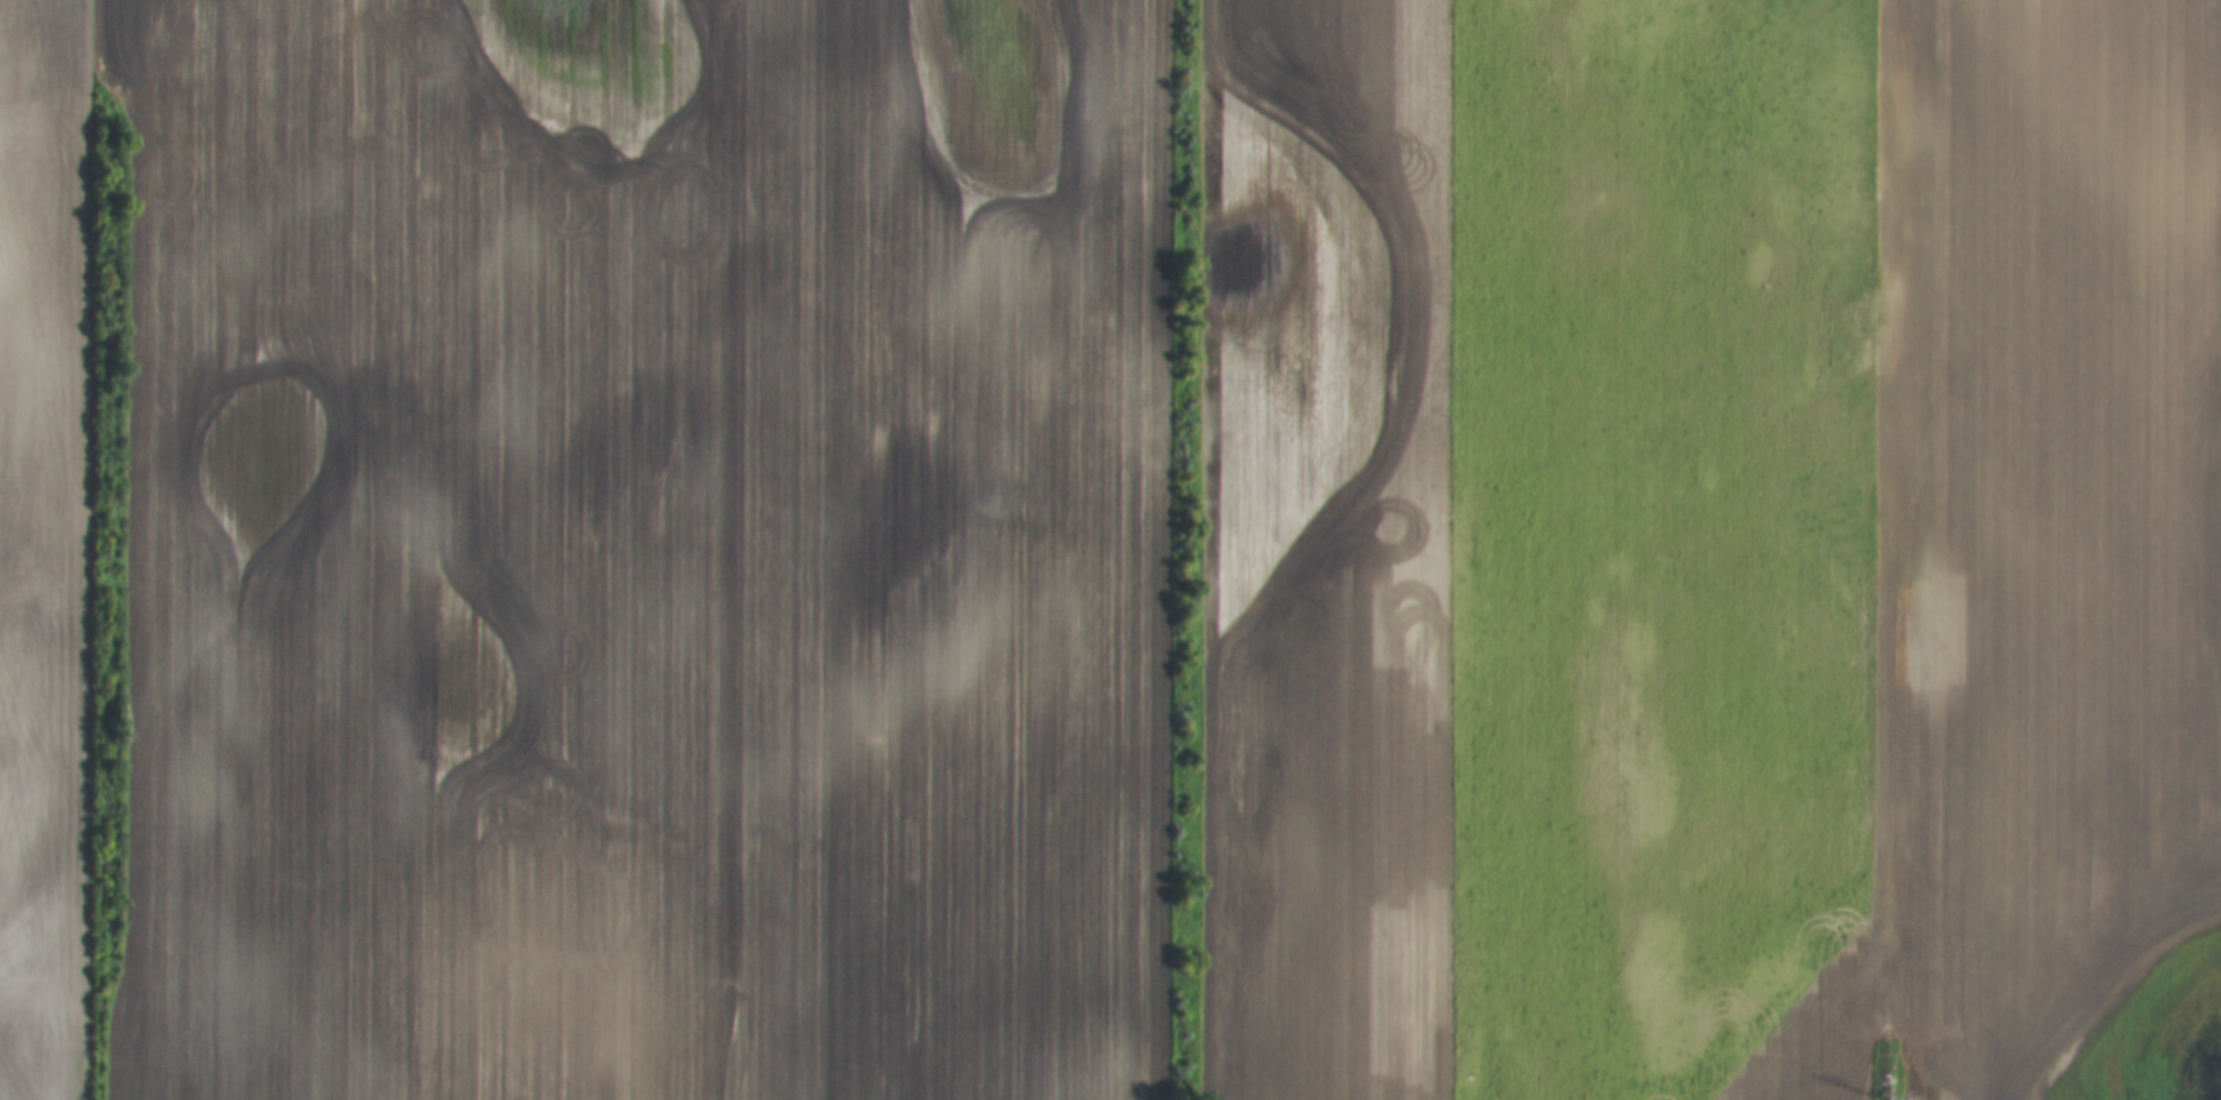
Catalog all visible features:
road: (112, 549)

